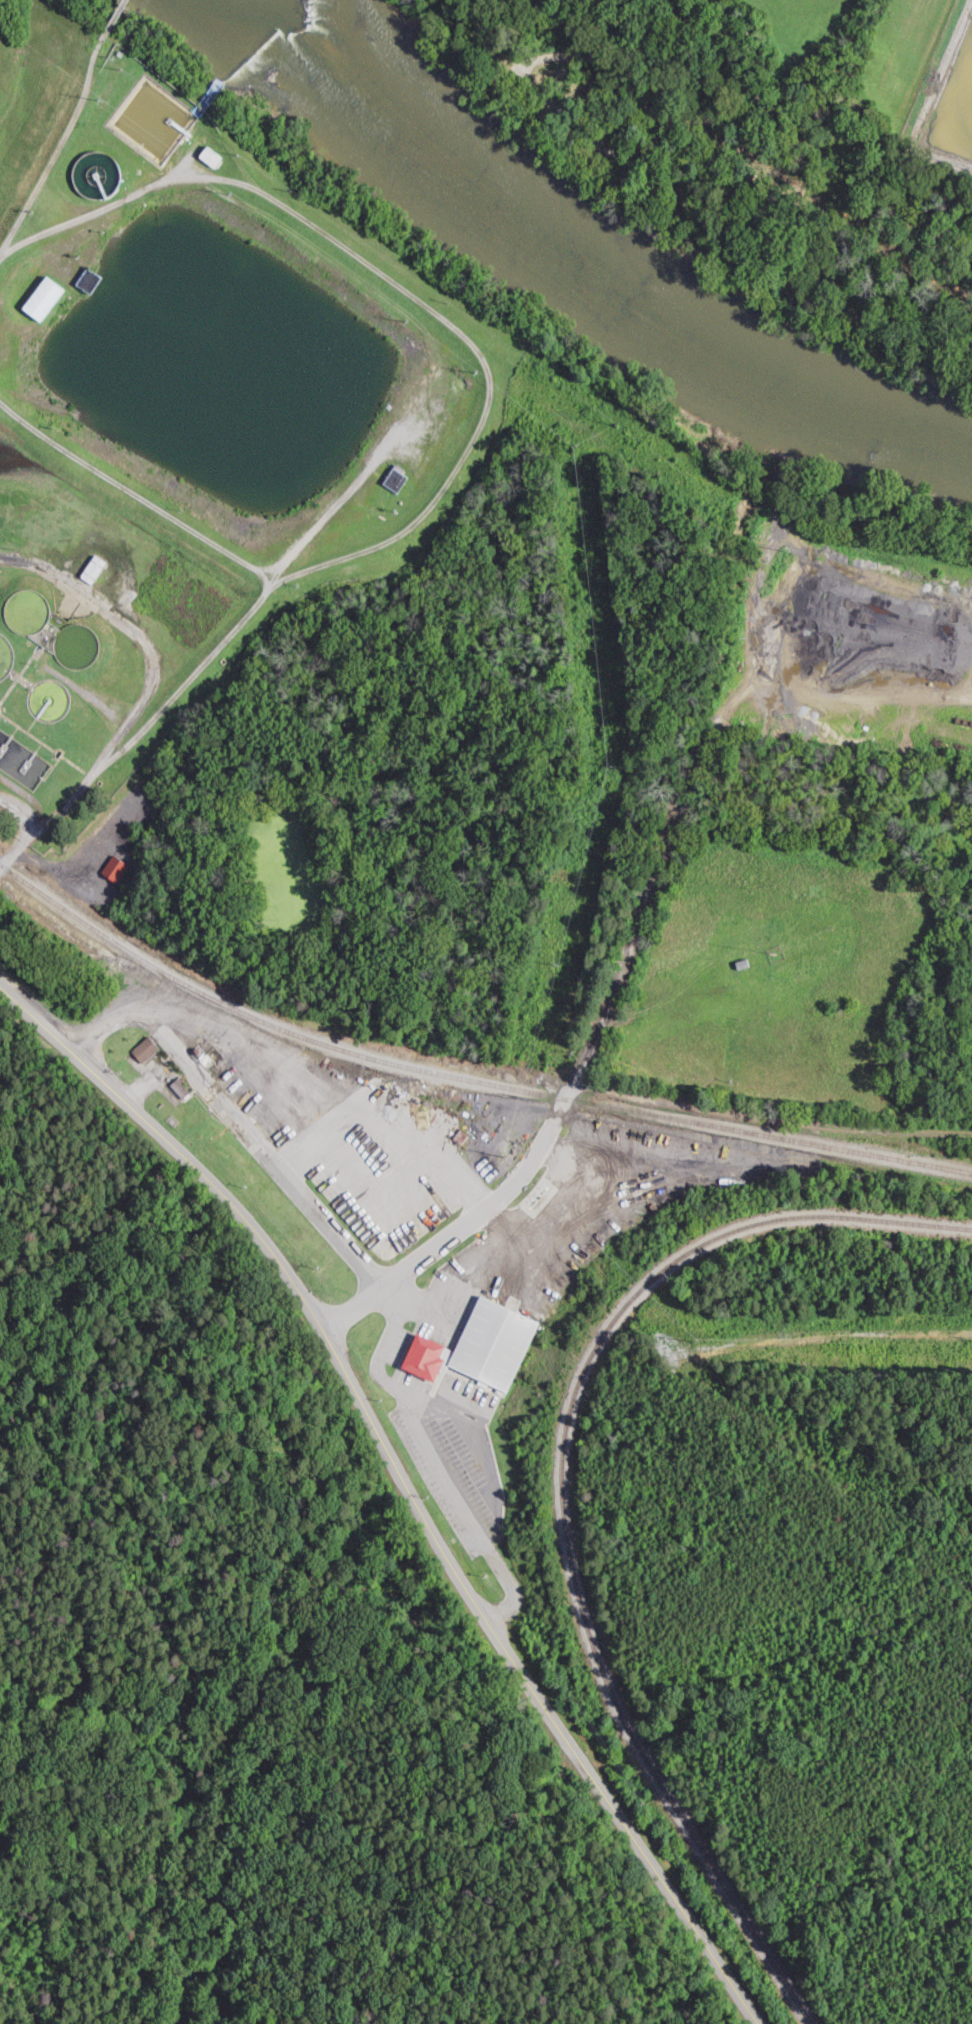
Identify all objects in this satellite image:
road: (104, 23)
river: (235, 29)
power tower: (103, 97)
road: (760, 101)
road: (56, 150)
river: (421, 176)
power tower: (233, 192)
road: (685, 208)
power tower: (409, 320)
power tower: (479, 370)
river: (761, 384)
power tower: (577, 444)
road: (139, 696)
power tower: (613, 764)
power tower: (557, 967)
railway: (464, 1077)
road: (753, 1116)
power tower: (504, 1153)
road: (301, 1193)
road: (452, 1238)
power tower: (696, 1340)
road: (405, 1482)
railway: (570, 1503)

